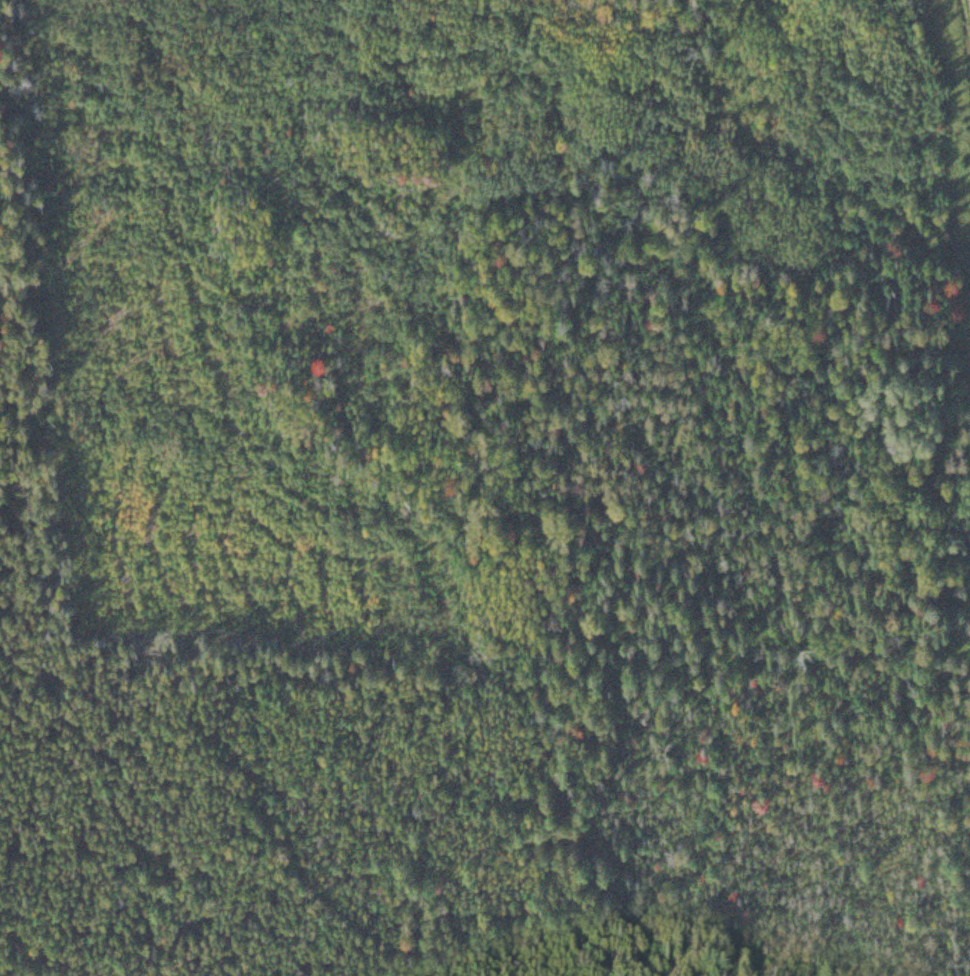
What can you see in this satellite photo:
road: (969, 2)

